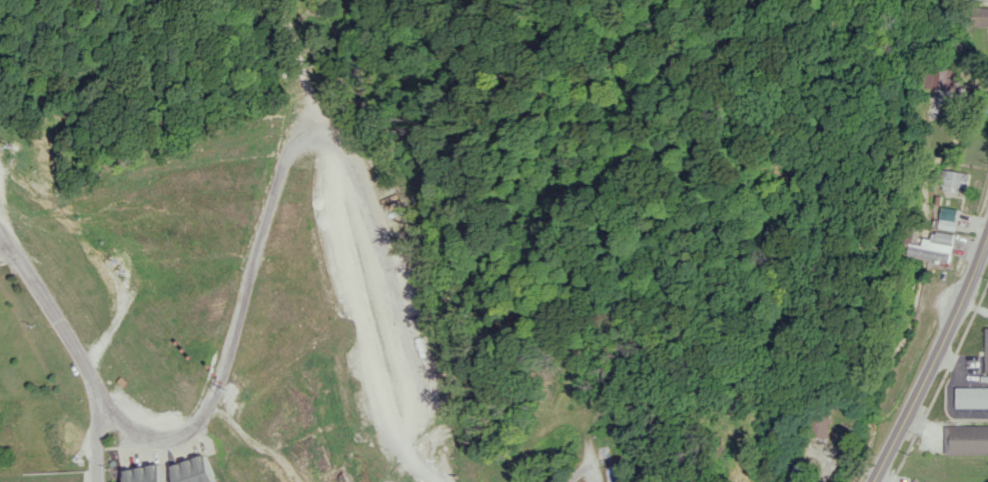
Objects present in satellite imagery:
building: (979, 15)
road: (305, 50)
building: (943, 77)
road: (304, 128)
building: (954, 179)
road: (7, 234)
building: (933, 247)
building: (926, 269)
road: (391, 289)
road: (362, 314)
road: (84, 336)
road: (236, 344)
road: (931, 357)
building: (987, 365)
building: (971, 397)
building: (818, 423)
building: (966, 438)
road: (585, 464)
building: (192, 470)
building: (800, 470)
building: (143, 474)

